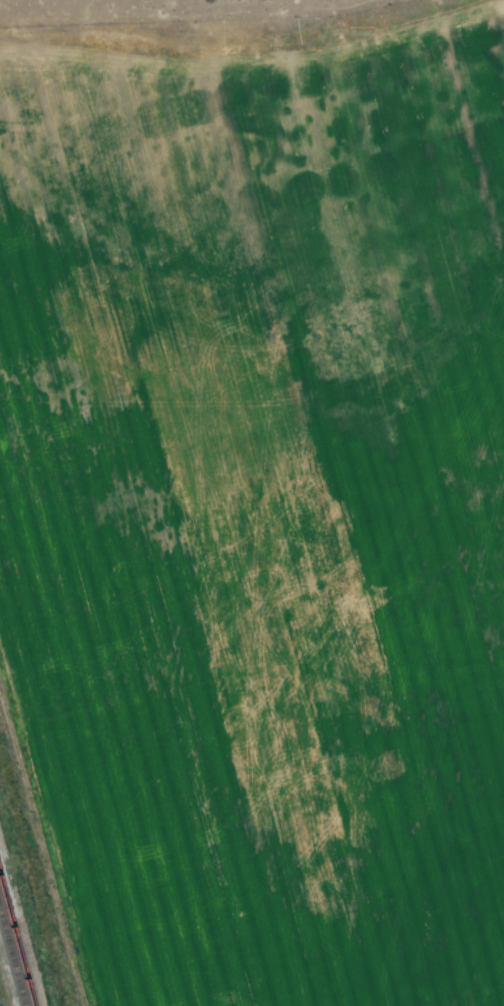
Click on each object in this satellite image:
railway: (17, 937)
railway: (11, 962)

